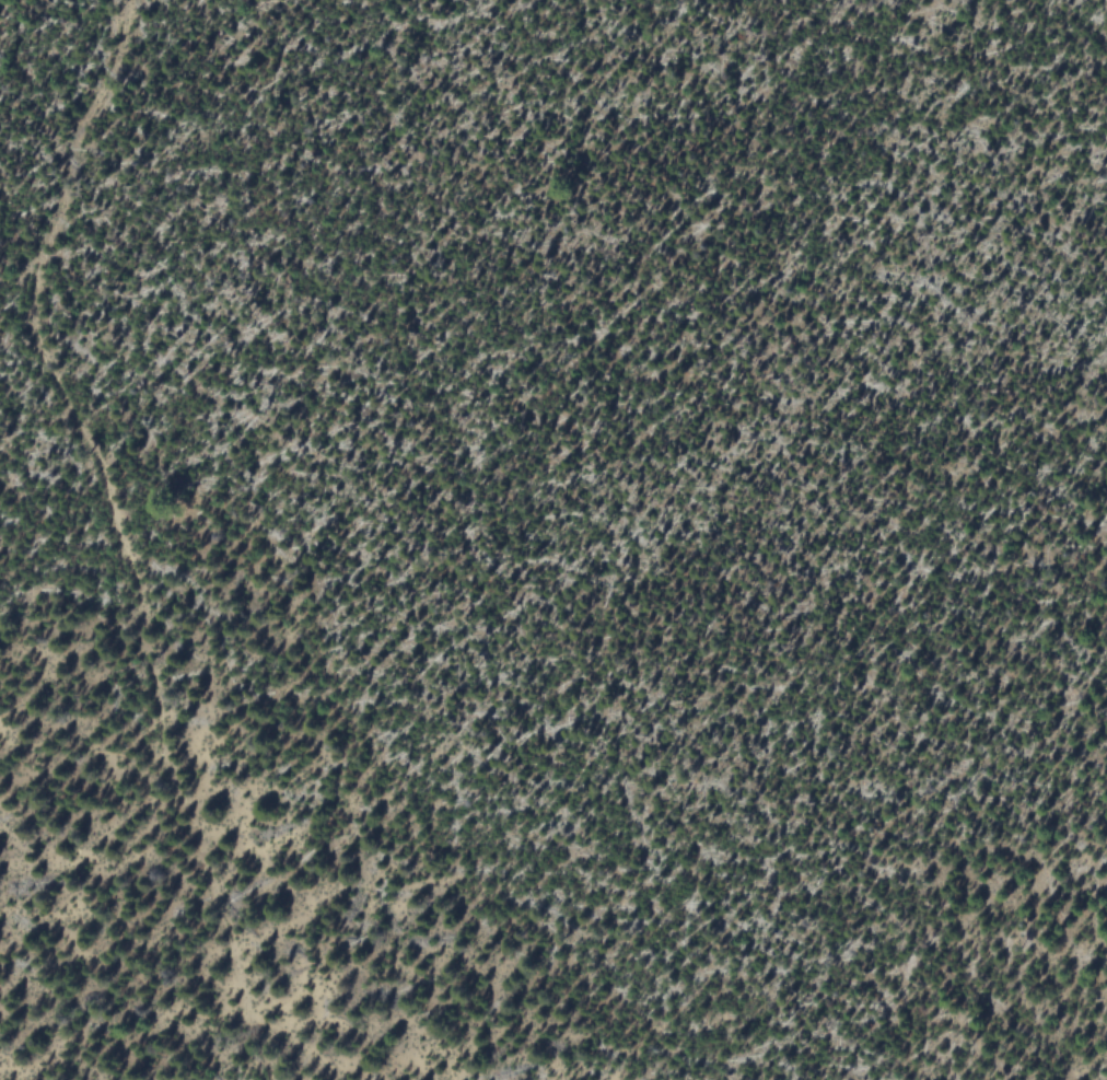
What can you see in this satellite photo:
road: (155, 543)

